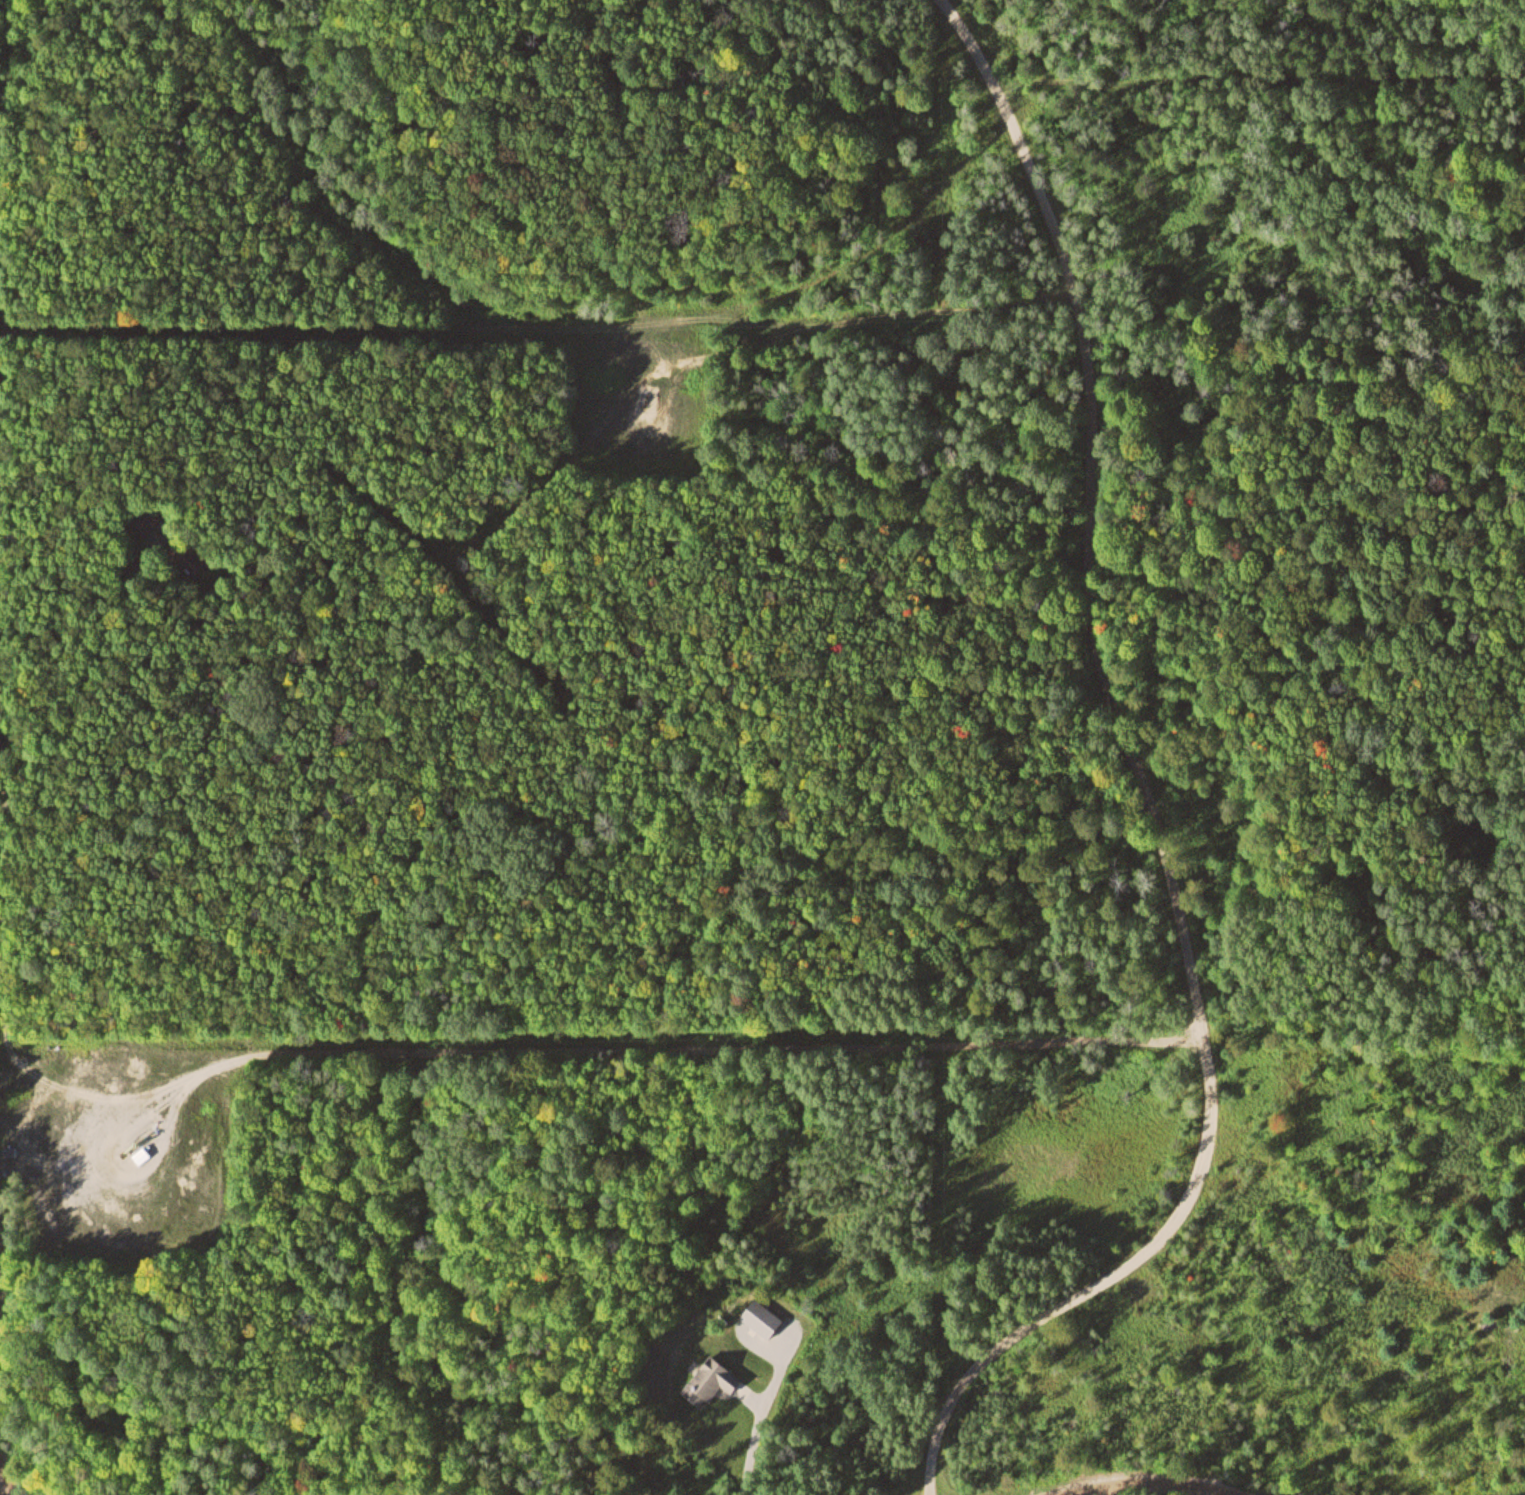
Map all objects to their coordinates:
road: (1256, 75)
road: (570, 332)
petroleum well: (650, 400)
road: (1146, 790)
road: (14, 825)
road: (602, 1047)
petroleum well: (129, 1150)
building: (758, 1317)
building: (706, 1381)
road: (6, 1458)
road: (11, 1483)
road: (23, 1483)
road: (1154, 1491)

